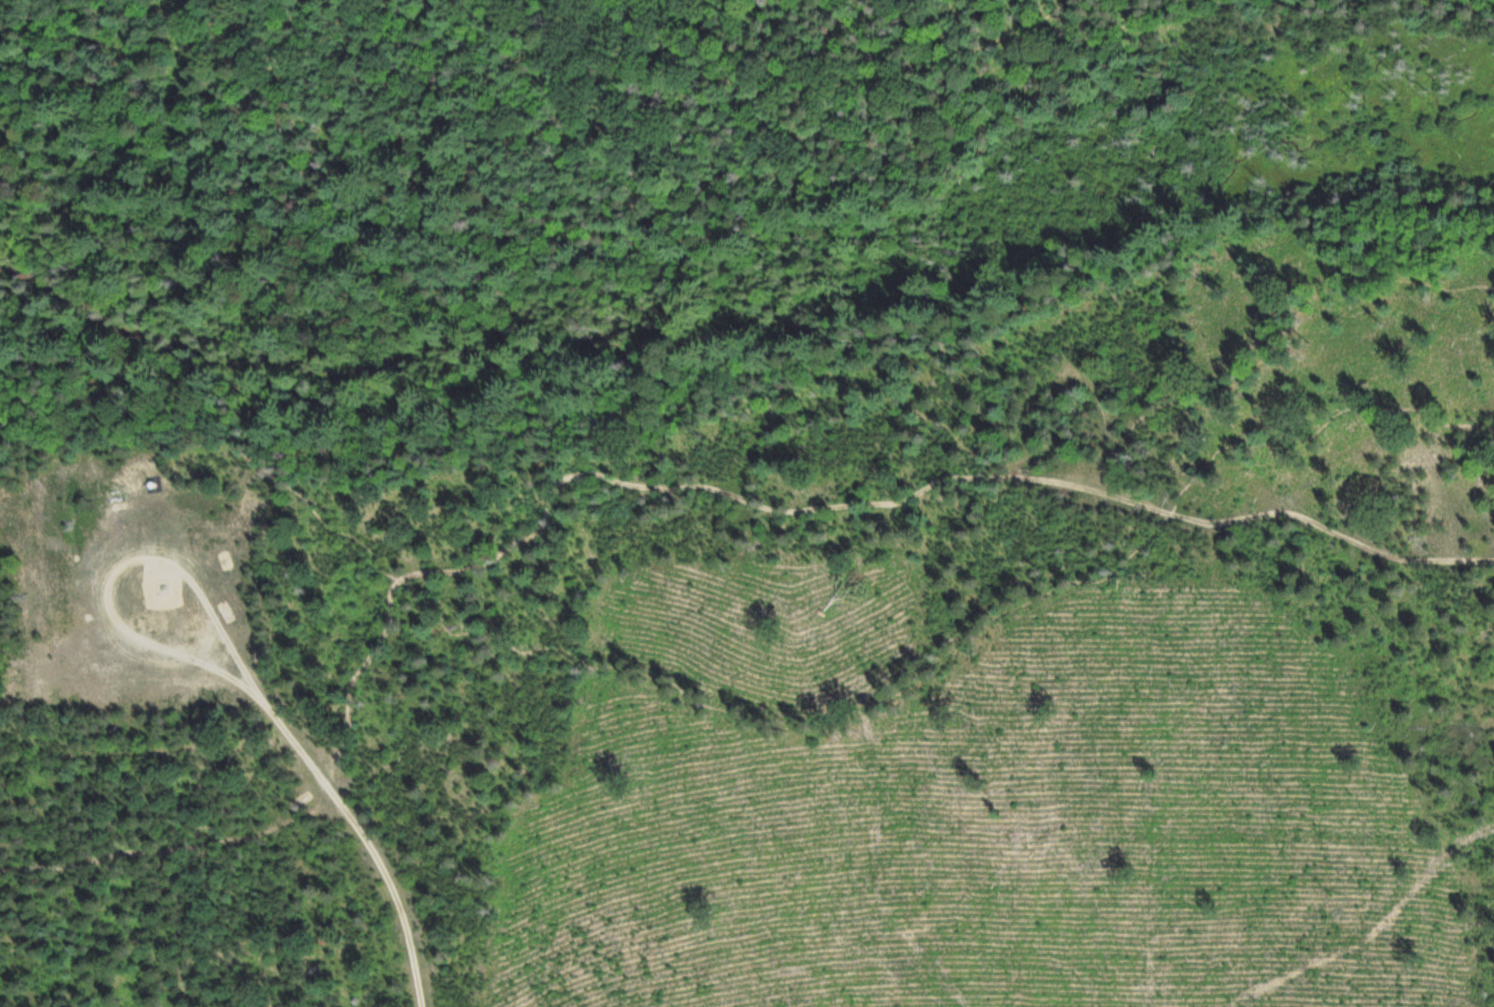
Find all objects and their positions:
road: (695, 64)
road: (361, 172)
road: (685, 325)
road: (1090, 434)
road: (649, 488)
road: (119, 567)
road: (747, 718)
road: (363, 834)

